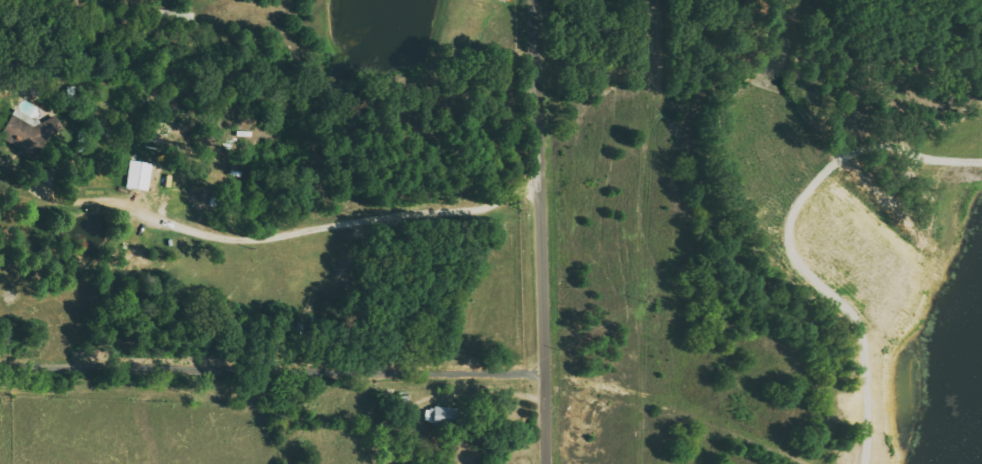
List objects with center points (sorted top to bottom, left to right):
building: (28, 133)
building: (139, 178)
road: (311, 230)
road: (550, 232)
road: (276, 371)
road: (499, 391)
road: (667, 408)
building: (441, 416)

